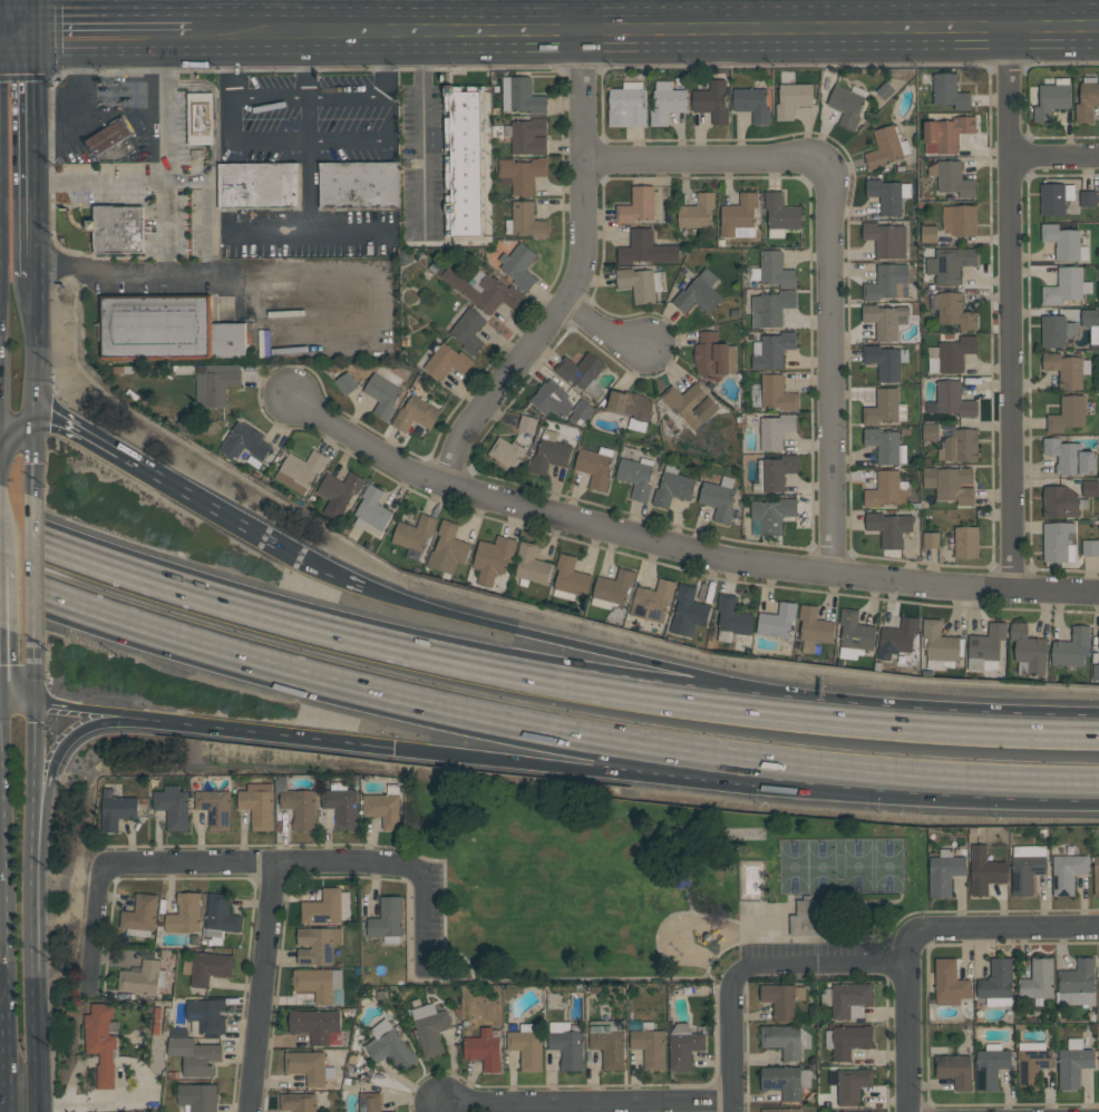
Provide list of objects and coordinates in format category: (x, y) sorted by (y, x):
road: (945, 12)
road: (1003, 12)
road: (768, 13)
road: (37, 16)
road: (178, 16)
road: (271, 16)
road: (644, 28)
road: (19, 32)
traffic signals: (38, 32)
road: (114, 32)
road: (389, 62)
road: (233, 65)
building: (950, 91)
building: (521, 95)
building: (792, 99)
building: (1051, 99)
building: (1087, 99)
building: (712, 100)
building: (667, 101)
building: (752, 103)
building: (626, 105)
building: (846, 105)
gas station: (107, 118)
building: (201, 118)
building: (120, 128)
road: (308, 131)
road: (422, 131)
building: (946, 134)
building: (528, 136)
building: (103, 140)
road: (318, 143)
building: (886, 146)
road: (38, 153)
road: (168, 153)
road: (1053, 155)
road: (707, 157)
building: (463, 159)
building: (522, 174)
building: (952, 178)
building: (257, 185)
building: (359, 185)
road: (103, 187)
building: (888, 195)
building: (1054, 197)
building: (1087, 198)
building: (636, 205)
road: (206, 208)
building: (697, 212)
building: (780, 214)
building: (739, 216)
building: (525, 220)
building: (959, 220)
building: (117, 228)
building: (928, 233)
building: (886, 238)
building: (1062, 242)
building: (645, 248)
building: (949, 263)
building: (518, 265)
building: (774, 270)
road: (210, 272)
road: (571, 276)
building: (641, 283)
building: (889, 283)
building: (1066, 286)
building: (484, 290)
building: (698, 292)
building: (770, 308)
road: (1010, 308)
building: (952, 310)
building: (1089, 318)
building: (884, 320)
building: (165, 328)
road: (600, 328)
building: (468, 330)
building: (1056, 330)
road: (38, 347)
building: (770, 349)
building: (714, 354)
building: (950, 354)
building: (445, 359)
building: (883, 361)
road: (833, 364)
building: (1067, 369)
building: (580, 370)
building: (216, 382)
building: (346, 383)
building: (776, 392)
building: (382, 394)
building: (551, 399)
building: (951, 400)
building: (690, 403)
building: (884, 407)
building: (631, 408)
building: (581, 411)
building: (416, 413)
building: (1067, 413)
traffic signals: (39, 420)
building: (527, 423)
road: (16, 428)
road: (80, 430)
building: (776, 430)
building: (930, 431)
building: (244, 441)
building: (883, 445)
building: (960, 446)
building: (506, 451)
building: (549, 452)
road: (37, 456)
building: (1070, 457)
building: (594, 467)
building: (300, 470)
building: (775, 472)
building: (636, 476)
building: (950, 484)
building: (672, 487)
building: (1089, 488)
building: (887, 489)
building: (339, 492)
building: (718, 498)
road: (205, 500)
building: (1062, 501)
building: (371, 509)
building: (771, 514)
building: (889, 527)
building: (414, 533)
building: (931, 539)
building: (966, 542)
building: (1059, 542)
road: (680, 545)
building: (1090, 547)
building: (448, 549)
building: (492, 558)
building: (531, 565)
road: (33, 570)
road: (334, 572)
building: (570, 578)
building: (612, 589)
building: (652, 604)
building: (688, 611)
building: (731, 617)
building: (777, 621)
building: (814, 627)
building: (854, 634)
building: (896, 638)
road: (387, 645)
building: (938, 645)
building: (985, 647)
building: (1071, 647)
building: (1028, 650)
building: (1098, 650)
road: (583, 651)
building: (1096, 672)
road: (35, 677)
road: (18, 702)
road: (388, 703)
traffic signals: (37, 708)
road: (90, 713)
road: (943, 725)
road: (268, 732)
road: (72, 741)
road: (33, 752)
road: (592, 760)
road: (944, 791)
building: (341, 803)
building: (257, 804)
building: (383, 806)
building: (172, 807)
building: (300, 807)
building: (215, 808)
building: (115, 809)
road: (260, 862)
park: (842, 866)
building: (1027, 867)
building: (984, 870)
building: (944, 871)
building: (1067, 872)
building: (1096, 875)
road: (2, 876)
park: (650, 882)
road: (31, 886)
building: (327, 907)
building: (185, 914)
building: (140, 915)
building: (218, 916)
building: (805, 918)
building: (387, 919)
road: (421, 919)
road: (93, 929)
road: (1010, 929)
building: (318, 945)
road: (819, 966)
building: (206, 967)
building: (140, 978)
building: (1038, 979)
building: (949, 982)
building: (1076, 982)
building: (318, 983)
building: (996, 983)
road: (263, 987)
building: (779, 999)
building: (849, 999)
building: (206, 1014)
road: (906, 1017)
building: (317, 1025)
building: (430, 1027)
building: (785, 1040)
building: (847, 1040)
building: (100, 1041)
road: (32, 1043)
building: (609, 1043)
road: (730, 1043)
building: (566, 1044)
building: (526, 1045)
building: (650, 1045)
building: (683, 1045)
building: (389, 1046)
building: (484, 1050)
building: (1098, 1050)
road: (4, 1053)
building: (194, 1055)
building: (1032, 1063)
building: (1073, 1063)
building: (991, 1065)
building: (308, 1066)
building: (954, 1069)
building: (786, 1081)
building: (849, 1084)
building: (197, 1098)
building: (298, 1102)
building: (369, 1102)
road: (586, 1103)
road: (440, 1106)
building: (781, 1110)
building: (389, 1111)
building: (862, 1111)
building: (868, 1111)

